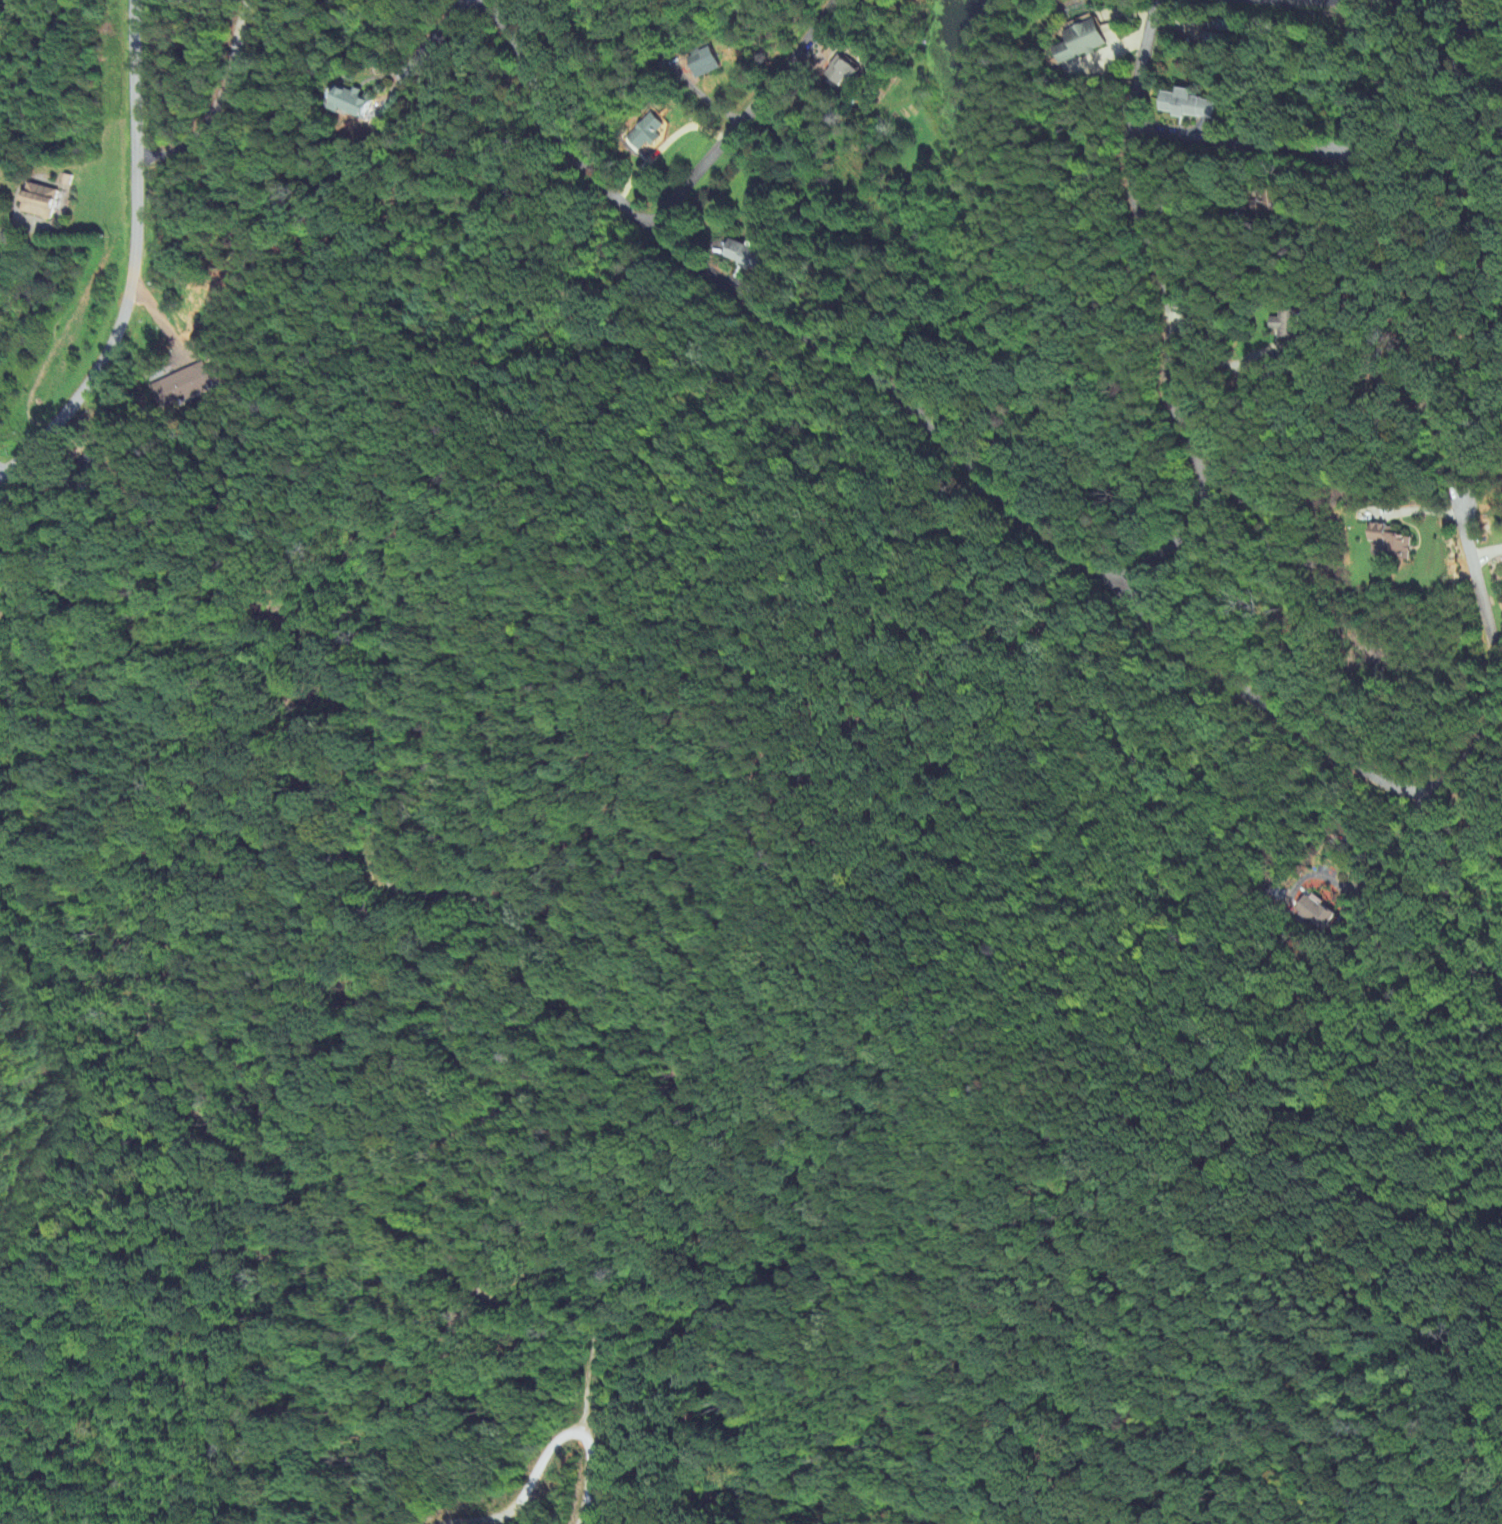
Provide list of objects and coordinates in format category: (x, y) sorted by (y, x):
road: (1293, 1)
park: (5, 8)
building: (1223, 32)
road: (437, 33)
building: (1082, 43)
building: (702, 63)
building: (842, 72)
building: (353, 103)
building: (1188, 106)
road: (745, 119)
road: (553, 124)
building: (642, 135)
road: (1232, 142)
building: (39, 202)
building: (1270, 203)
road: (12, 229)
building: (745, 257)
road: (133, 259)
road: (1169, 316)
building: (1286, 325)
building: (183, 386)
road: (900, 397)
building: (1393, 543)
road: (1411, 788)
road: (1397, 847)
building: (1317, 913)
road: (586, 1479)
road: (526, 1483)

